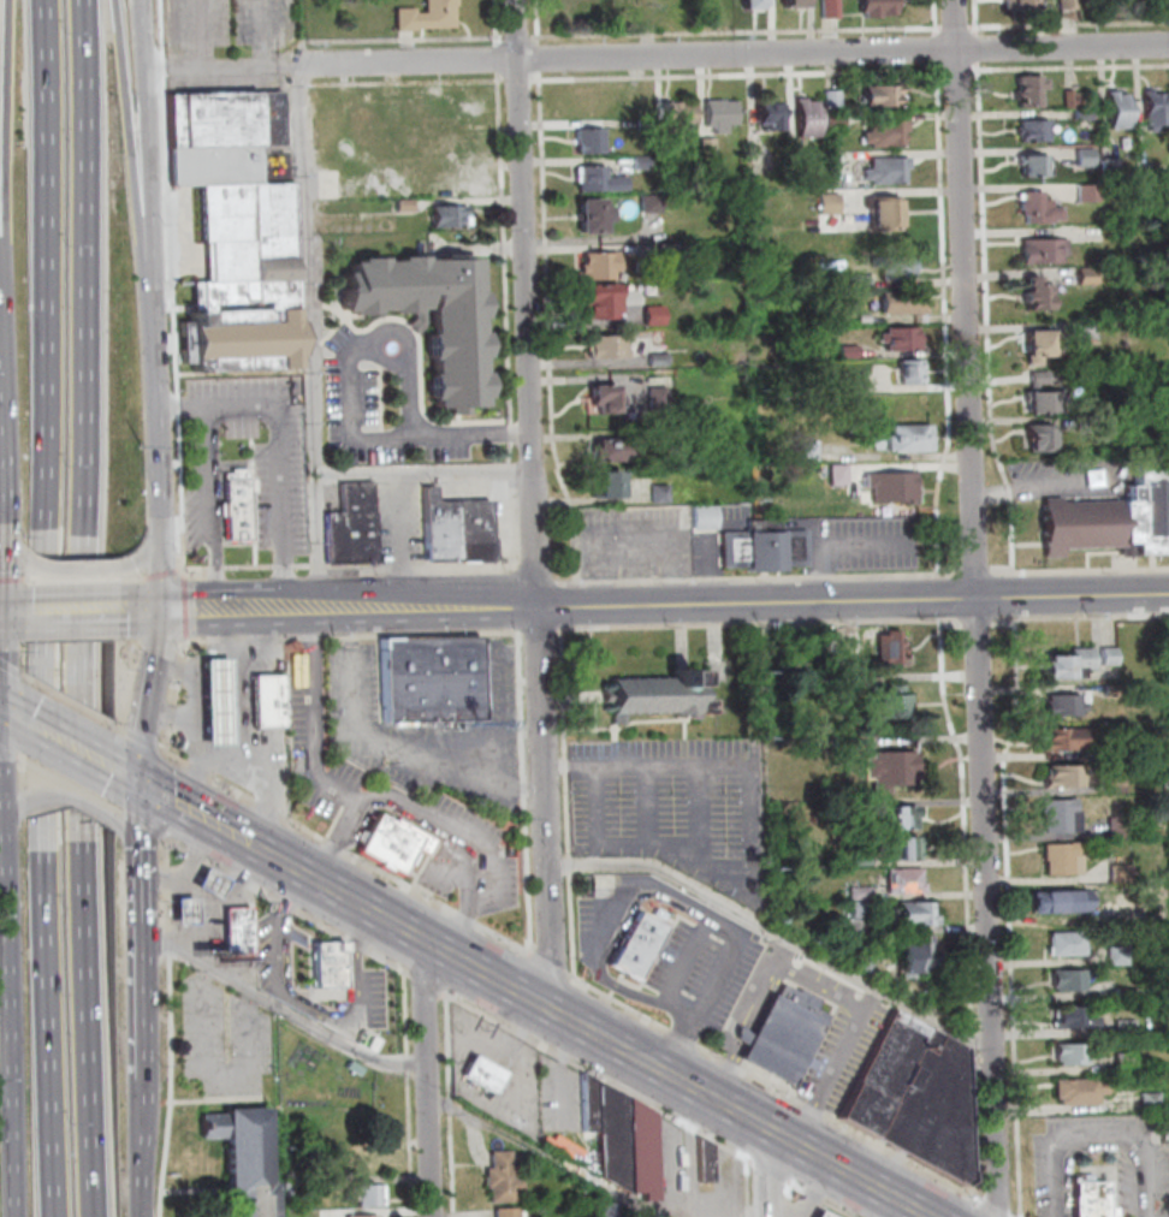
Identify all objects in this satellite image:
building: (1070, 4)
building: (1027, 5)
building: (756, 7)
building: (796, 7)
building: (594, 8)
building: (882, 8)
building: (833, 10)
road: (979, 17)
building: (432, 18)
road: (938, 18)
road: (541, 22)
parking lot: (233, 23)
road: (499, 23)
road: (1070, 24)
road: (166, 26)
road: (959, 26)
road: (204, 31)
road: (263, 31)
road: (741, 32)
road: (522, 37)
road: (404, 41)
road: (939, 49)
road: (980, 49)
road: (734, 54)
road: (305, 57)
road: (500, 59)
road: (541, 59)
road: (167, 60)
road: (224, 65)
road: (1070, 67)
road: (959, 70)
road: (741, 75)
road: (522, 79)
road: (407, 81)
road: (303, 83)
building: (1032, 89)
building: (888, 96)
building: (1074, 99)
building: (835, 100)
building: (1120, 109)
building: (1157, 109)
building: (771, 113)
road: (301, 114)
building: (680, 114)
building: (722, 114)
building: (1087, 114)
building: (808, 118)
road: (149, 120)
road: (126, 121)
building: (837, 121)
building: (361, 126)
building: (1034, 131)
building: (888, 133)
building: (589, 138)
road: (5, 143)
building: (710, 148)
building: (1087, 158)
building: (642, 162)
building: (1037, 165)
building: (1114, 170)
building: (889, 171)
road: (303, 172)
building: (391, 172)
building: (597, 178)
building: (446, 180)
building: (1091, 194)
building: (237, 196)
building: (403, 203)
building: (654, 203)
building: (831, 204)
building: (1040, 208)
building: (886, 210)
building: (449, 214)
building: (592, 214)
parking lot: (188, 239)
building: (1045, 251)
building: (672, 253)
building: (600, 263)
road: (505, 266)
building: (897, 267)
building: (1090, 275)
building: (862, 281)
building: (1039, 293)
building: (598, 299)
building: (907, 302)
road: (316, 303)
building: (428, 314)
building: (657, 315)
road: (152, 317)
building: (867, 319)
road: (309, 321)
building: (415, 321)
road: (948, 321)
road: (989, 321)
road: (410, 326)
road: (362, 328)
road: (551, 330)
building: (1088, 331)
building: (903, 338)
building: (1039, 343)
fountain: (392, 344)
building: (606, 345)
building: (851, 351)
building: (660, 356)
road: (379, 358)
building: (913, 372)
road: (408, 373)
building: (856, 382)
building: (1043, 394)
road: (380, 396)
building: (604, 396)
building: (660, 398)
parking lot: (354, 402)
road: (177, 405)
road: (426, 412)
building: (1087, 426)
road: (381, 432)
road: (522, 432)
road: (174, 433)
road: (381, 437)
building: (1040, 437)
building: (910, 438)
road: (153, 441)
building: (612, 447)
building: (811, 452)
road: (283, 465)
road: (508, 468)
road: (425, 470)
road: (315, 471)
building: (841, 475)
building: (607, 482)
building: (895, 486)
building: (661, 493)
building: (233, 501)
road: (536, 504)
road: (208, 507)
road: (154, 511)
building: (707, 516)
building: (1112, 516)
road: (402, 518)
road: (510, 520)
building: (355, 524)
building: (443, 526)
building: (476, 529)
road: (147, 545)
road: (320, 546)
building: (767, 547)
road: (10, 554)
road: (348, 565)
road: (81, 566)
road: (1080, 570)
road: (158, 572)
road: (978, 572)
road: (153, 574)
road: (541, 575)
road: (138, 577)
road: (761, 577)
road: (11, 578)
road: (78, 578)
road: (1015, 596)
road: (942, 598)
road: (854, 599)
road: (180, 605)
road: (979, 607)
road: (43, 608)
road: (84, 608)
road: (465, 610)
road: (315, 612)
road: (75, 613)
road: (141, 613)
road: (11, 615)
road: (197, 615)
traffic signals: (153, 616)
road: (1092, 618)
road: (1005, 622)
road: (980, 623)
road: (764, 624)
road: (380, 633)
road: (232, 637)
road: (194, 639)
building: (889, 645)
road: (311, 646)
building: (1108, 654)
building: (1068, 663)
road: (177, 665)
road: (177, 666)
building: (296, 667)
road: (11, 670)
road: (147, 672)
road: (216, 673)
road: (235, 673)
building: (433, 684)
road: (239, 689)
road: (173, 690)
building: (660, 693)
road: (586, 696)
building: (216, 699)
building: (268, 699)
road: (67, 701)
building: (891, 702)
building: (1063, 702)
road: (171, 713)
road: (12, 716)
road: (168, 716)
road: (218, 716)
road: (236, 716)
road: (648, 722)
road: (117, 728)
parking lot: (428, 732)
road: (314, 735)
road: (137, 737)
building: (1061, 737)
road: (164, 738)
parking lot: (316, 741)
road: (566, 742)
road: (618, 744)
road: (69, 747)
road: (12, 754)
road: (132, 755)
road: (162, 755)
road: (244, 767)
building: (892, 767)
building: (1061, 774)
road: (123, 776)
road: (0, 782)
traffic signals: (133, 782)
road: (69, 783)
road: (526, 791)
road: (237, 792)
road: (161, 797)
road: (69, 799)
road: (387, 799)
road: (354, 802)
road: (11, 805)
road: (652, 805)
parking lot: (678, 809)
road: (190, 813)
building: (1058, 814)
road: (133, 815)
road: (704, 815)
building: (903, 817)
road: (967, 821)
road: (136, 824)
building: (1117, 825)
road: (124, 833)
road: (1, 838)
road: (753, 839)
road: (172, 842)
building: (392, 843)
road: (459, 843)
road: (331, 844)
road: (333, 845)
building: (907, 847)
road: (161, 850)
building: (1061, 856)
building: (865, 857)
parking lot: (471, 859)
road: (571, 865)
road: (216, 866)
building: (209, 880)
building: (907, 880)
road: (398, 881)
road: (665, 887)
building: (861, 894)
building: (1060, 900)
road: (637, 904)
road: (162, 909)
building: (182, 909)
building: (860, 912)
building: (916, 914)
road: (463, 915)
road: (1008, 915)
road: (655, 916)
road: (137, 918)
parking lot: (599, 921)
road: (462, 924)
road: (572, 925)
road: (325, 926)
building: (237, 927)
road: (776, 932)
road: (503, 937)
building: (1064, 942)
building: (640, 944)
parking lot: (279, 955)
building: (918, 956)
road: (655, 961)
building: (866, 961)
road: (689, 963)
building: (331, 964)
road: (551, 964)
parking lot: (708, 969)
building: (1066, 978)
road: (422, 980)
road: (618, 984)
road: (759, 987)
road: (767, 999)
road: (304, 1009)
road: (404, 1013)
road: (291, 1014)
road: (8, 1015)
building: (1072, 1015)
road: (141, 1022)
road: (587, 1031)
building: (785, 1033)
road: (747, 1035)
parking lot: (219, 1037)
road: (974, 1039)
road: (447, 1044)
road: (740, 1049)
parking lot: (844, 1051)
building: (1069, 1052)
road: (408, 1065)
building: (485, 1073)
road: (598, 1075)
road: (831, 1076)
road: (426, 1078)
road: (166, 1086)
street lamp: (443, 1087)
building: (1076, 1088)
road: (789, 1096)
building: (918, 1096)
road: (208, 1098)
building: (1149, 1099)
road: (450, 1103)
road: (977, 1124)
road: (1103, 1128)
building: (622, 1138)
road: (142, 1139)
road: (409, 1146)
road: (548, 1154)
building: (245, 1158)
building: (364, 1159)
building: (704, 1159)
road: (451, 1163)
road: (770, 1169)
road: (769, 1174)
building: (503, 1177)
road: (749, 1187)
road: (191, 1189)
building: (363, 1192)
building: (1091, 1197)
road: (790, 1199)
road: (824, 1199)
building: (613, 1209)
road: (904, 1211)
building: (508, 1212)
road: (783, 1215)
building: (824, 1215)
building: (364, 1216)

